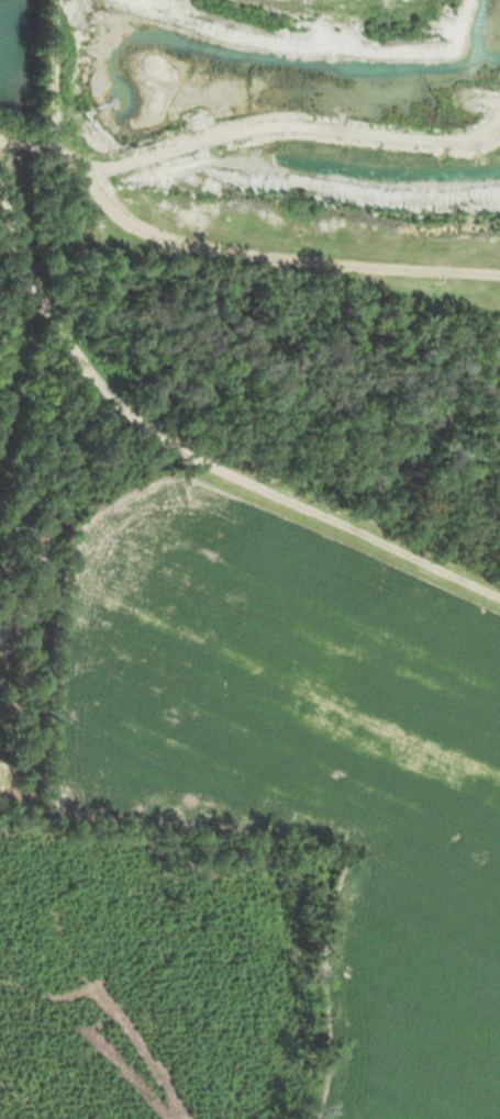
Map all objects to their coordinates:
road: (60, 74)
road: (286, 123)
road: (233, 247)
road: (82, 392)
road: (285, 488)

